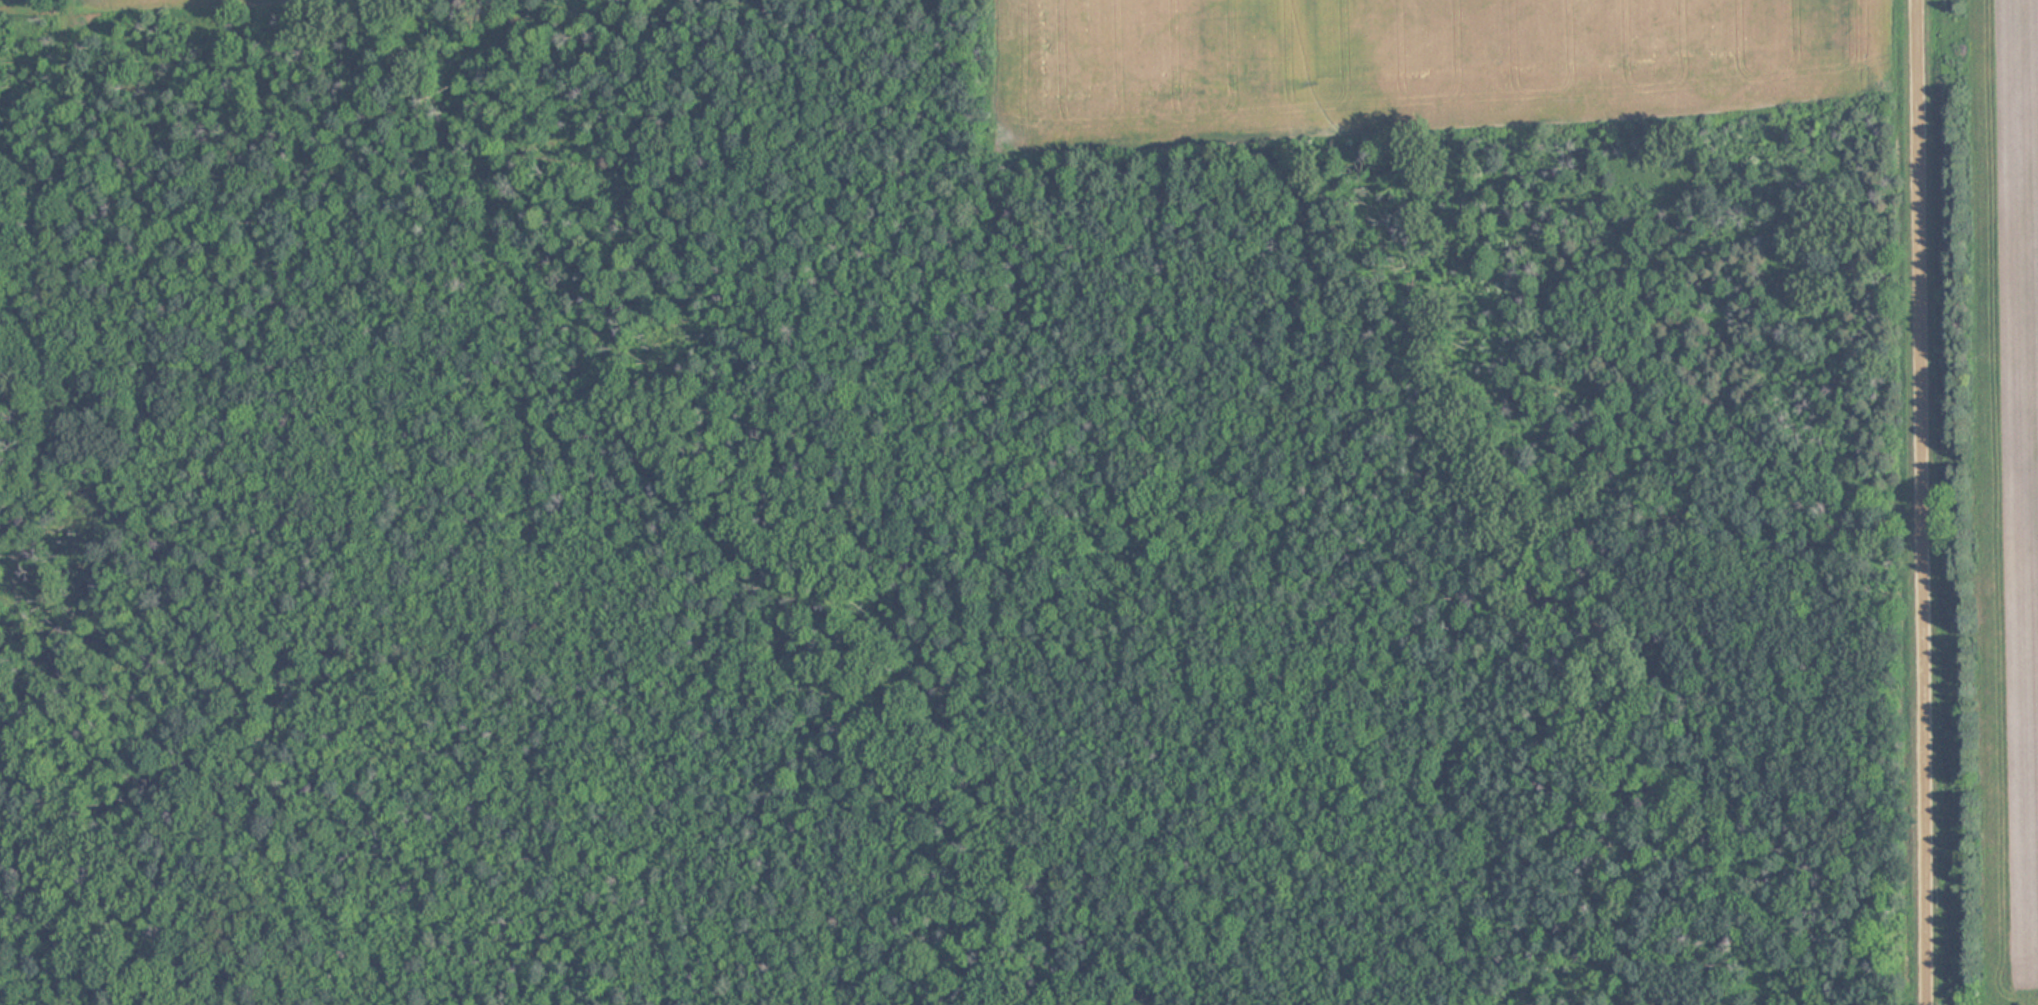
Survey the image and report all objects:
road: (1926, 502)

